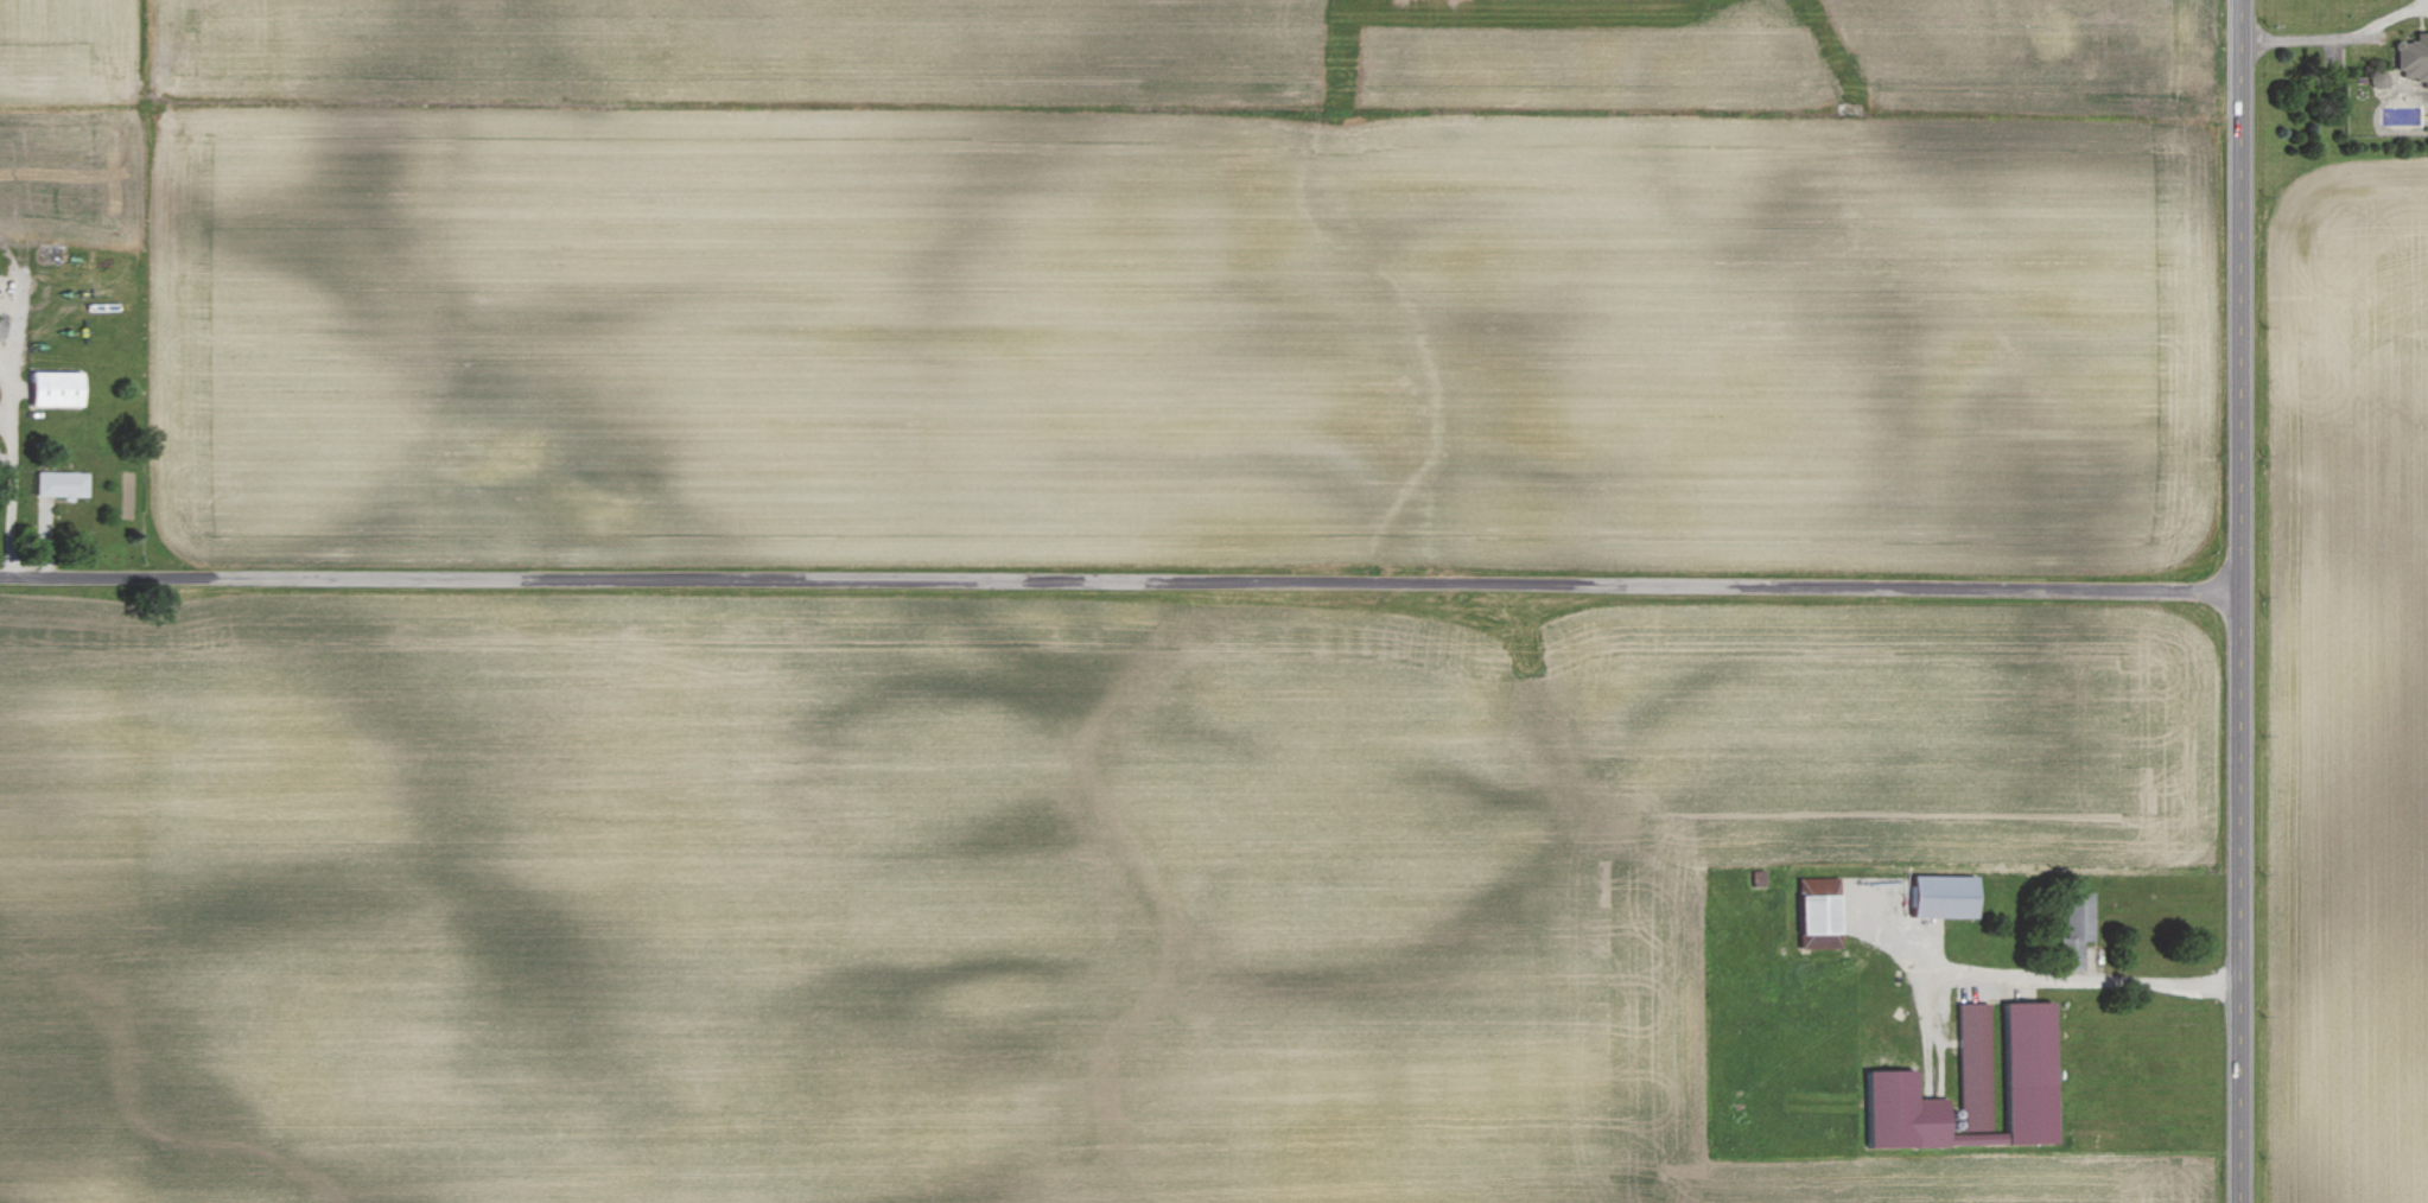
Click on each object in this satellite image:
road: (2331, 36)
building: (2413, 58)
road: (11, 466)
building: (68, 483)
road: (1119, 580)
road: (2238, 600)
building: (1941, 895)
building: (1816, 910)
building: (2076, 927)
road: (2076, 981)
building: (1972, 1065)
building: (2026, 1067)
building: (1900, 1110)

